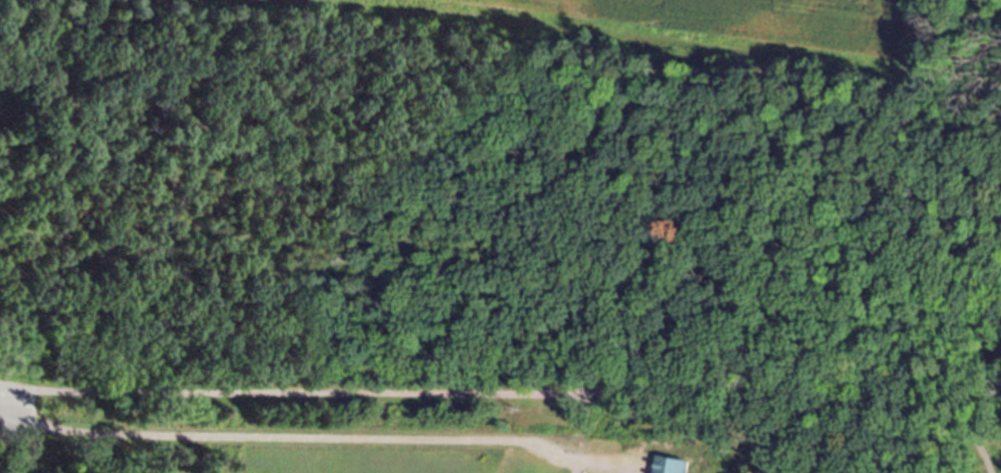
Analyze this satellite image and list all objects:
road: (11, 390)
road: (525, 395)
road: (25, 432)
road: (318, 436)
building: (675, 467)

